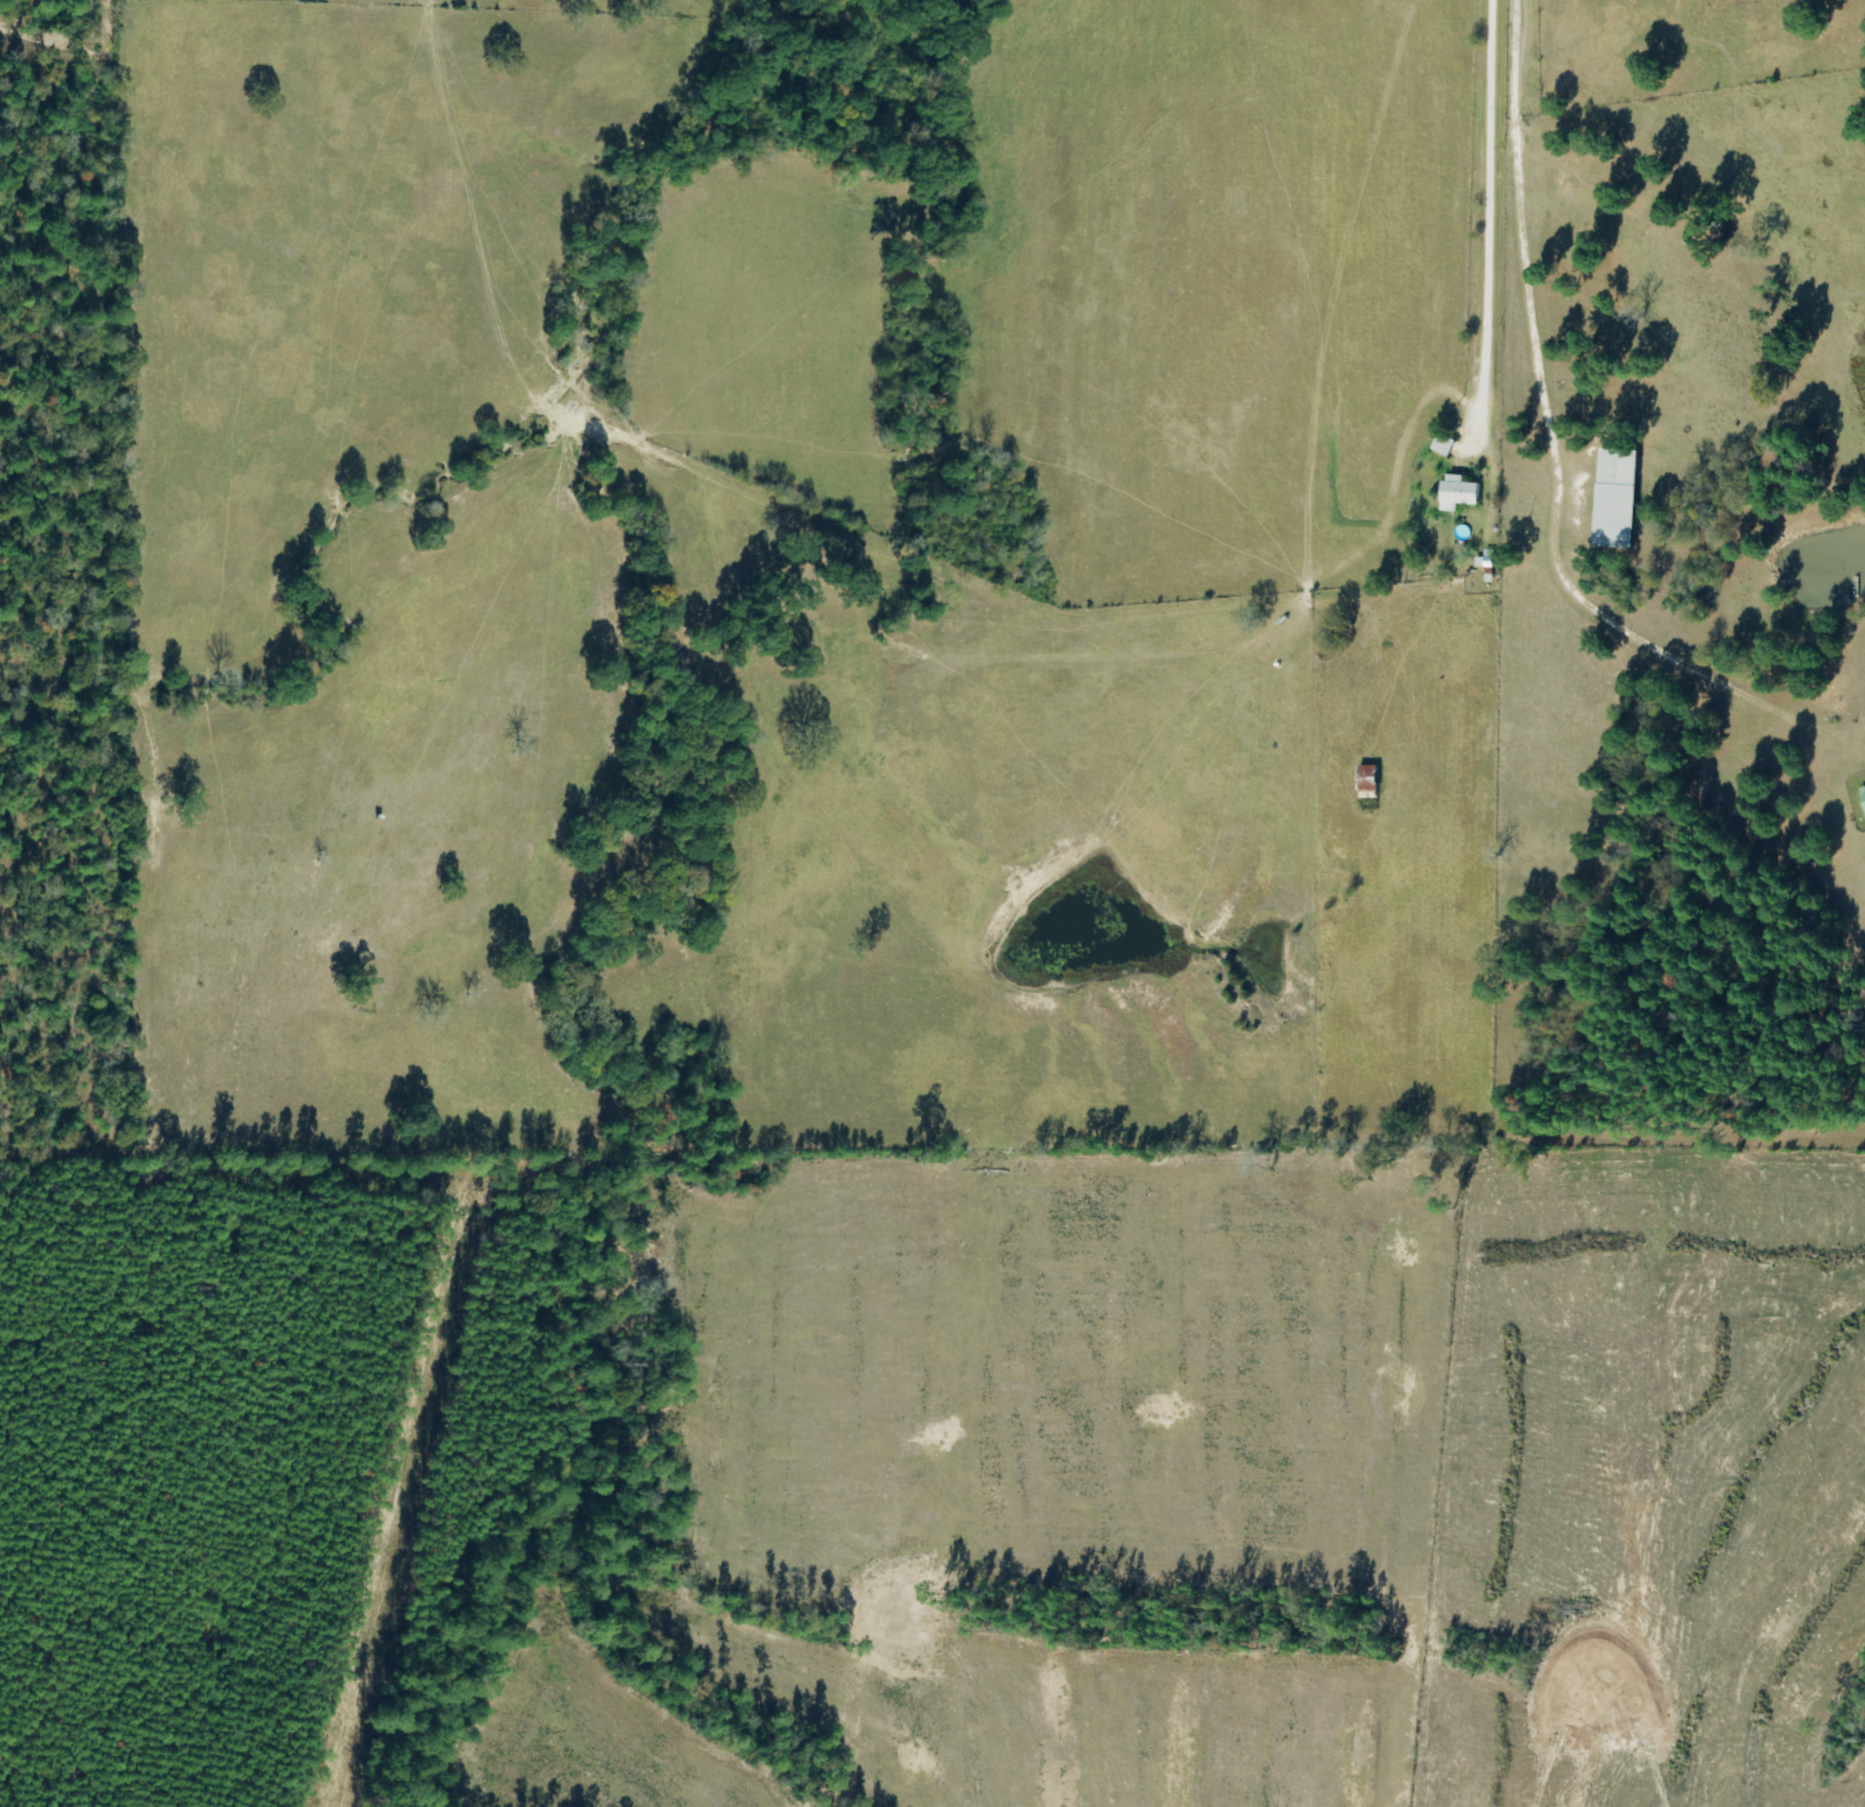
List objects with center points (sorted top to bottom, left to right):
road: (1484, 266)
building: (1445, 444)
building: (1458, 493)
building: (1614, 498)
building: (1367, 781)
building: (1861, 799)

